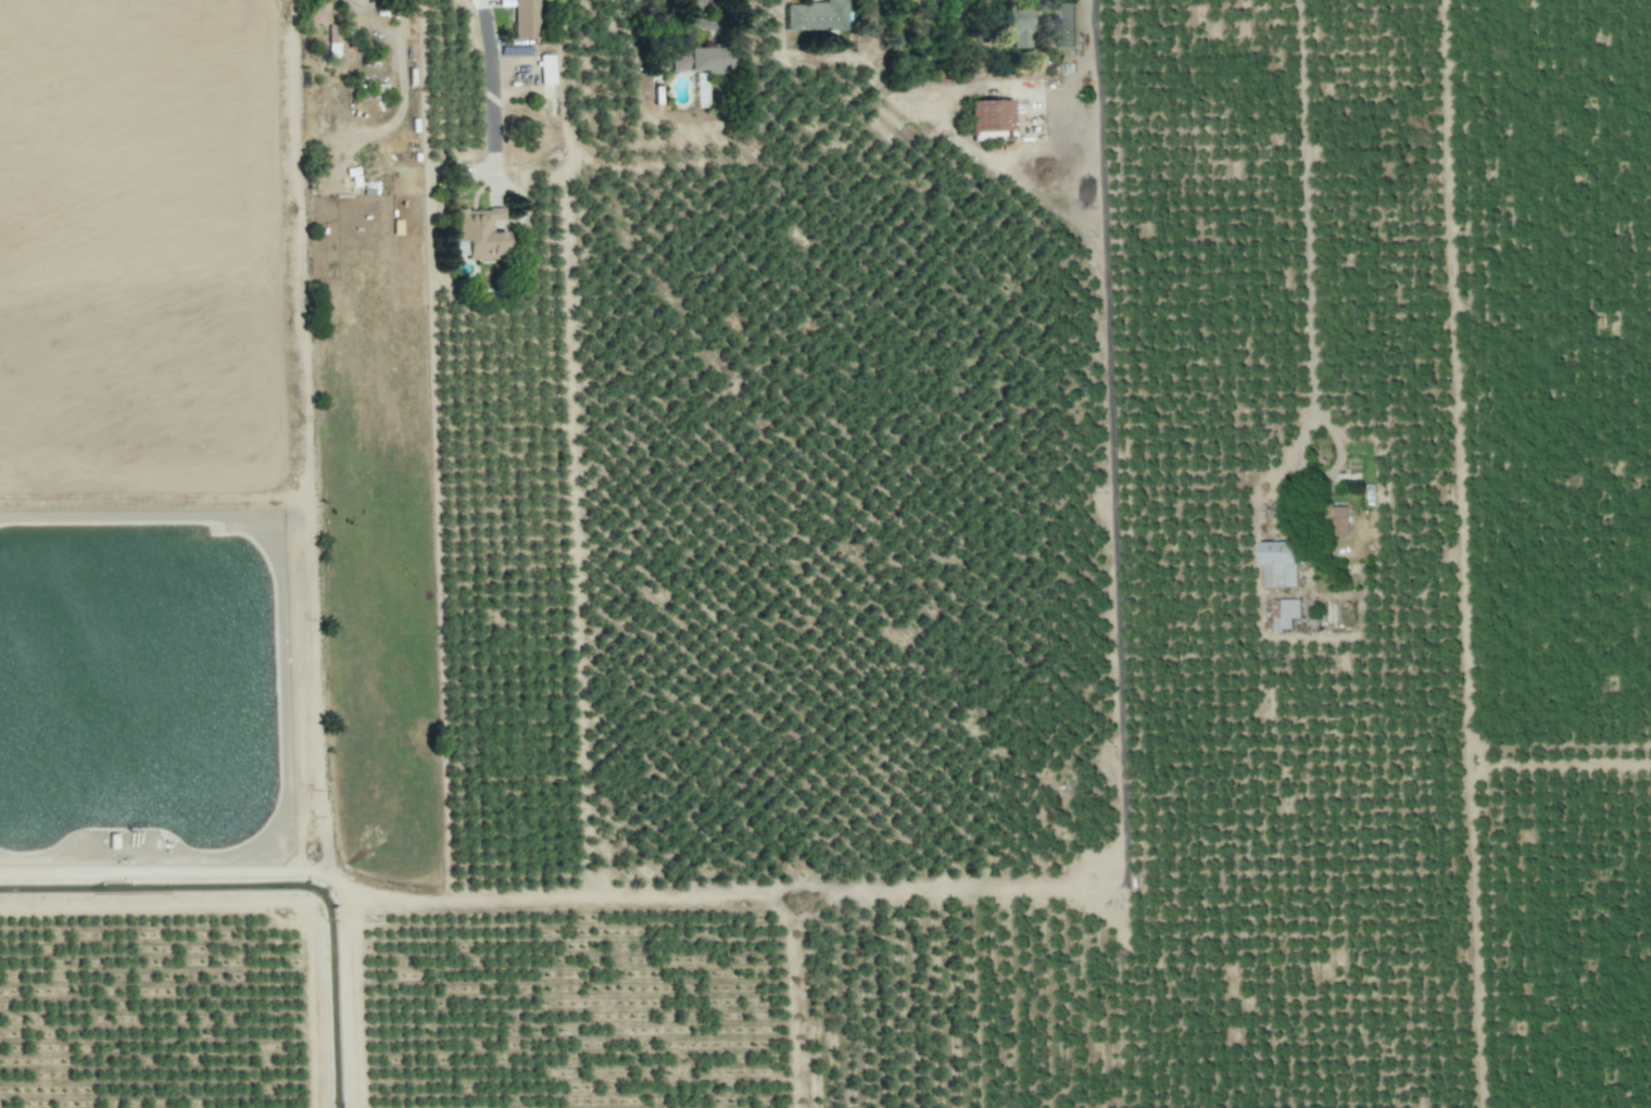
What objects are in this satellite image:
building: (318, 12)
building: (816, 15)
building: (525, 18)
building: (1062, 27)
building: (1012, 35)
building: (698, 60)
road: (1092, 66)
building: (546, 68)
road: (490, 86)
building: (991, 118)
road: (1309, 223)
building: (476, 236)
building: (1338, 520)
building: (1278, 564)
building: (1285, 614)

